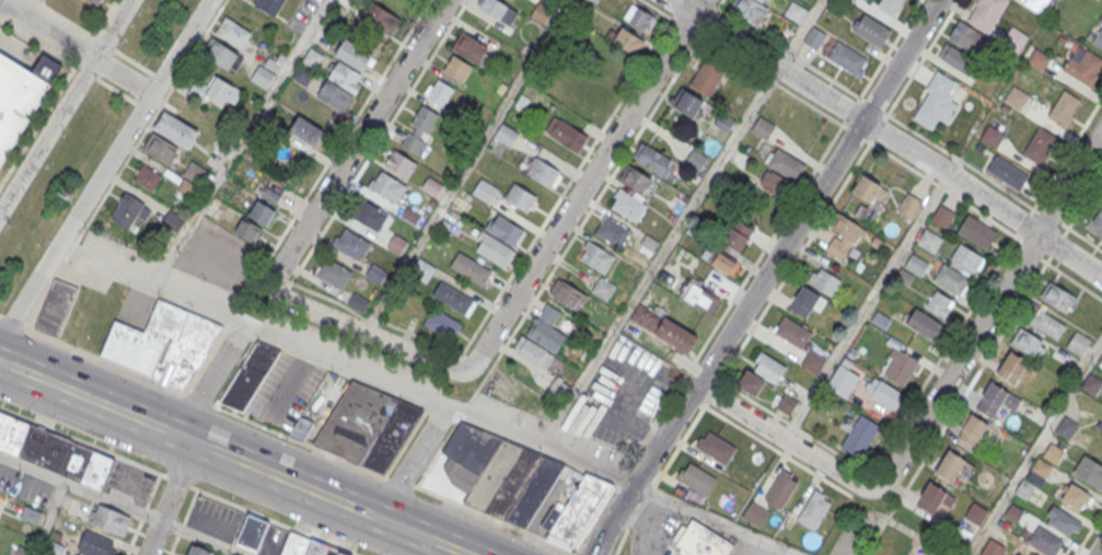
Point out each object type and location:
building: (510, 0)
building: (593, 0)
building: (761, 0)
building: (97, 1)
building: (1035, 3)
building: (268, 5)
building: (890, 5)
road: (24, 8)
building: (498, 9)
building: (794, 10)
building: (386, 11)
building: (542, 13)
building: (986, 13)
building: (638, 18)
building: (1101, 20)
building: (871, 28)
building: (234, 34)
building: (813, 36)
building: (1013, 37)
building: (967, 38)
building: (1098, 38)
building: (628, 42)
building: (471, 46)
road: (77, 47)
road: (780, 48)
building: (352, 53)
building: (223, 56)
building: (312, 56)
building: (1037, 57)
building: (847, 58)
building: (955, 59)
road: (881, 62)
building: (1083, 66)
building: (456, 67)
road: (914, 70)
building: (301, 72)
building: (345, 76)
building: (707, 76)
building: (439, 91)
building: (217, 92)
building: (335, 94)
building: (1016, 95)
building: (21, 96)
building: (688, 102)
building: (937, 102)
road: (65, 105)
road: (872, 105)
building: (1063, 108)
building: (762, 126)
building: (175, 127)
building: (418, 127)
building: (306, 132)
building: (565, 132)
building: (990, 135)
building: (506, 136)
road: (888, 138)
road: (240, 142)
road: (357, 143)
building: (1039, 146)
building: (161, 150)
road: (1067, 151)
building: (652, 158)
building: (695, 161)
road: (959, 161)
building: (785, 162)
road: (467, 164)
building: (399, 165)
building: (542, 170)
building: (1007, 171)
road: (102, 173)
building: (147, 177)
road: (570, 177)
building: (637, 180)
building: (192, 181)
building: (772, 181)
road: (587, 183)
building: (387, 185)
building: (431, 187)
building: (870, 192)
building: (485, 193)
power tower: (66, 195)
building: (520, 195)
road: (1084, 197)
road: (792, 201)
building: (628, 204)
building: (908, 204)
building: (265, 208)
road: (1035, 209)
building: (130, 211)
building: (370, 213)
building: (942, 213)
building: (173, 221)
road: (680, 223)
building: (1095, 223)
building: (503, 228)
building: (612, 230)
building: (976, 231)
building: (247, 232)
building: (735, 236)
building: (842, 239)
building: (929, 239)
building: (350, 241)
road: (1056, 243)
building: (397, 245)
building: (646, 245)
building: (492, 247)
building: (595, 255)
building: (965, 256)
building: (718, 261)
building: (915, 263)
building: (469, 266)
building: (422, 271)
building: (334, 275)
building: (375, 275)
building: (903, 275)
road: (765, 276)
building: (950, 277)
building: (823, 279)
road: (1074, 280)
building: (603, 288)
building: (567, 292)
building: (1056, 296)
building: (453, 297)
building: (699, 297)
building: (803, 299)
building: (939, 302)
building: (358, 303)
building: (56, 308)
parking lot: (136, 308)
road: (866, 308)
road: (759, 316)
building: (880, 317)
building: (923, 322)
building: (1047, 323)
building: (442, 325)
building: (664, 326)
building: (546, 327)
building: (791, 329)
road: (372, 332)
building: (1025, 342)
building: (1077, 342)
building: (163, 344)
building: (812, 360)
building: (900, 365)
building: (766, 366)
building: (1011, 366)
building: (250, 375)
road: (211, 379)
building: (842, 379)
building: (1090, 383)
road: (967, 386)
building: (559, 390)
building: (881, 390)
parking lot: (622, 396)
building: (996, 397)
road: (936, 398)
road: (426, 401)
building: (786, 403)
building: (1101, 426)
building: (368, 427)
building: (972, 427)
building: (1065, 427)
building: (302, 429)
building: (859, 433)
road: (289, 437)
road: (210, 446)
building: (716, 447)
road: (1034, 448)
road: (777, 449)
building: (54, 451)
building: (1053, 452)
road: (411, 462)
building: (949, 464)
building: (1040, 467)
building: (1089, 472)
building: (499, 474)
building: (696, 477)
road: (179, 482)
parking lot: (128, 483)
building: (1024, 487)
building: (780, 489)
building: (1075, 496)
road: (172, 497)
building: (933, 500)
road: (120, 505)
building: (813, 509)
building: (1013, 510)
building: (975, 511)
building: (576, 512)
building: (754, 513)
road: (49, 518)
parking lot: (213, 518)
building: (109, 520)
building: (1062, 520)
road: (901, 529)
parking lot: (857, 532)
building: (252, 533)
road: (1088, 533)
park: (916, 537)
road: (850, 539)
parking lot: (272, 540)
building: (703, 541)
building: (1044, 541)
road: (416, 544)
road: (445, 544)
building: (95, 545)
building: (306, 546)
building: (993, 547)
building: (16, 551)
building: (197, 552)
road: (1100, 552)
building: (1031, 554)

